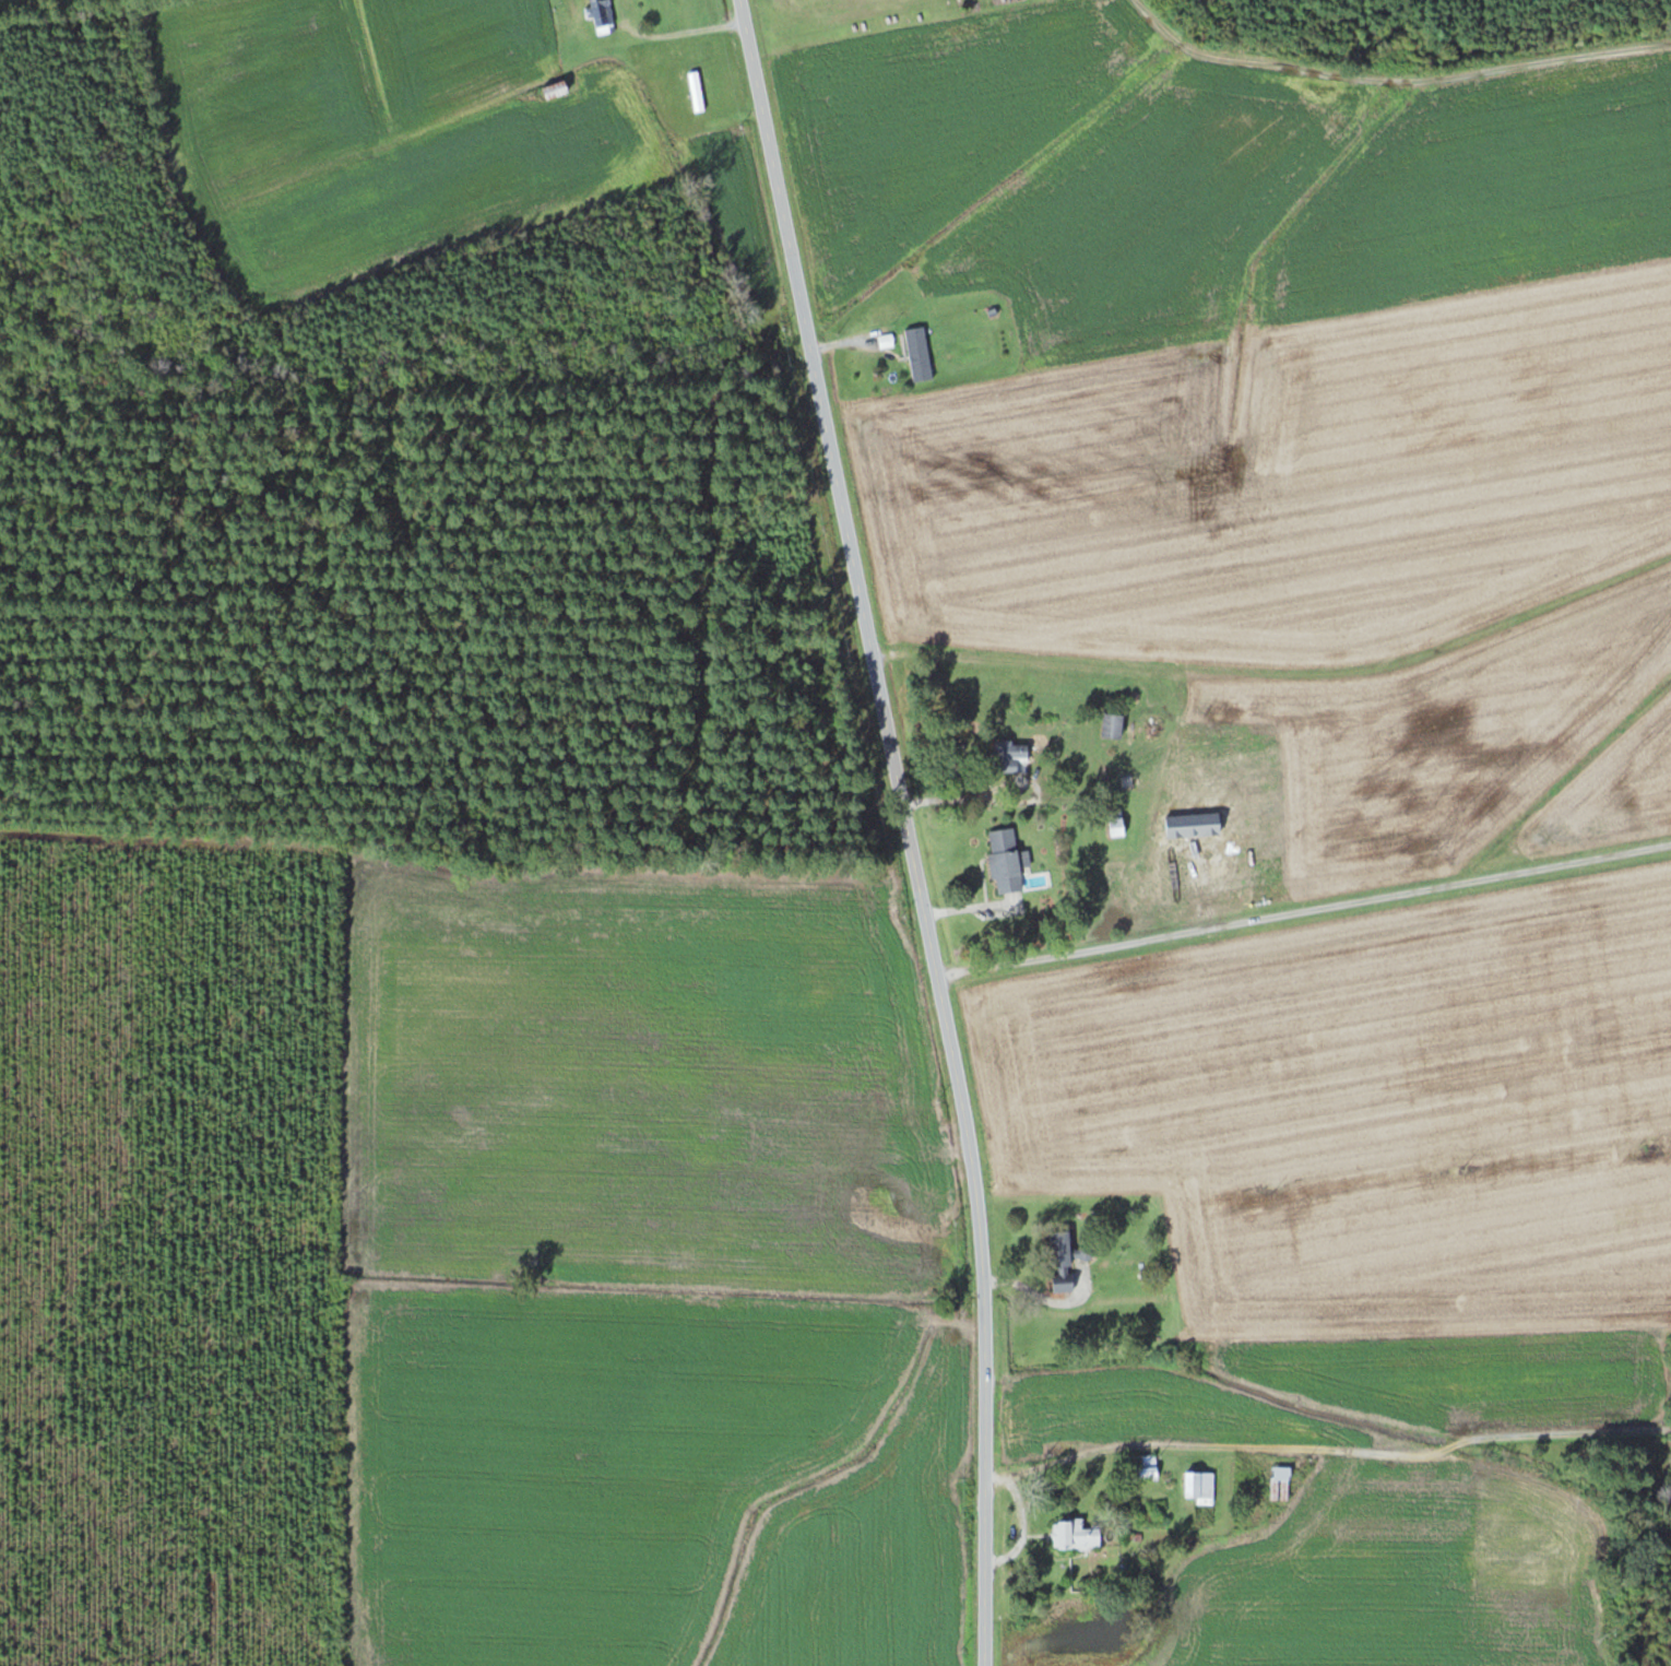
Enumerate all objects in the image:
road: (1143, 9)
building: (601, 15)
building: (697, 90)
building: (922, 353)
building: (1116, 724)
building: (1016, 752)
road: (906, 828)
building: (1122, 866)
building: (1012, 872)
road: (1304, 911)
building: (1068, 1264)
road: (1326, 1451)
building: (1148, 1466)
building: (1282, 1482)
building: (1202, 1487)
building: (1079, 1535)

